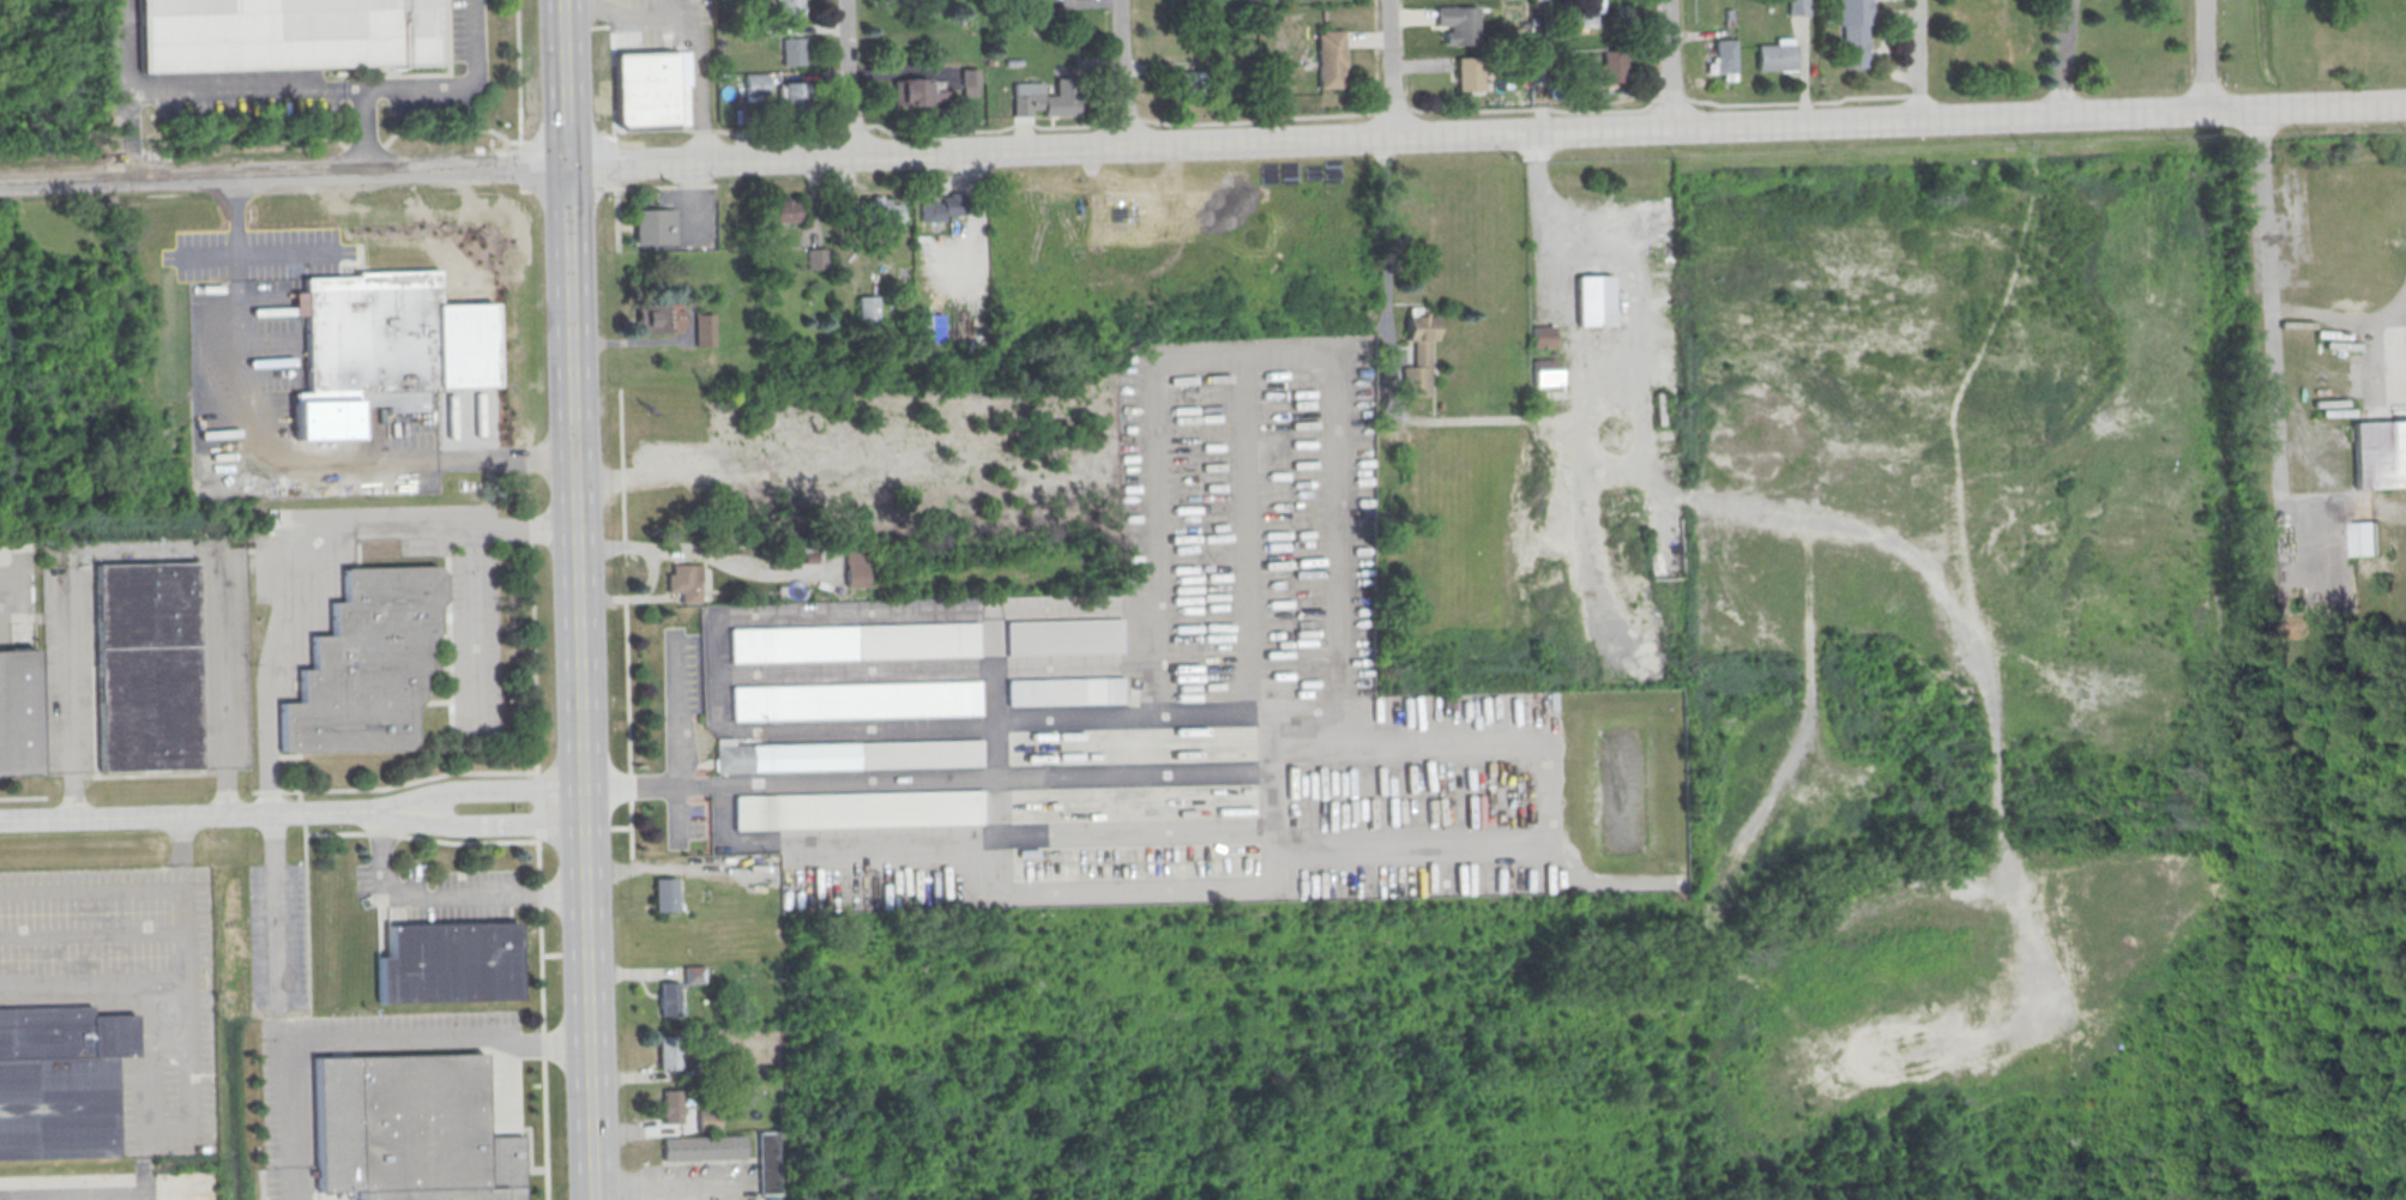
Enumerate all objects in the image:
building: (1798, 7)
building: (788, 8)
building: (1586, 14)
road: (697, 17)
building: (1459, 24)
road: (575, 28)
building: (1853, 30)
building: (284, 34)
road: (123, 43)
building: (792, 50)
road: (2205, 55)
building: (1724, 56)
building: (1775, 58)
road: (2062, 58)
building: (1329, 59)
road: (1919, 60)
road: (1669, 65)
road: (1391, 70)
building: (1469, 73)
road: (1120, 74)
building: (1599, 74)
road: (846, 79)
building: (1187, 80)
building: (969, 82)
road: (518, 83)
road: (562, 83)
building: (755, 84)
road: (459, 85)
road: (243, 86)
building: (651, 89)
building: (911, 91)
building: (790, 95)
road: (1914, 96)
building: (1044, 98)
road: (1672, 100)
road: (1798, 103)
road: (611, 108)
road: (1393, 109)
road: (1536, 109)
road: (1123, 120)
road: (1259, 121)
road: (850, 127)
road: (363, 129)
road: (1627, 131)
road: (704, 132)
road: (985, 132)
road: (125, 133)
road: (776, 138)
road: (374, 145)
road: (706, 162)
traffic signals: (565, 165)
road: (282, 175)
building: (882, 209)
building: (943, 209)
building: (780, 212)
building: (653, 225)
road: (237, 228)
parking lot: (258, 251)
road: (258, 251)
building: (816, 258)
road: (1382, 273)
building: (1593, 300)
building: (868, 309)
building: (657, 318)
road: (2339, 319)
building: (929, 327)
building: (704, 330)
building: (1543, 337)
road: (633, 342)
building: (364, 346)
building: (1419, 351)
road: (2272, 354)
road: (1192, 355)
building: (1545, 372)
road: (265, 448)
building: (2378, 453)
road: (505, 460)
road: (621, 465)
road: (572, 486)
road: (530, 506)
road: (530, 529)
road: (299, 537)
building: (2368, 538)
road: (623, 548)
road: (145, 553)
road: (711, 555)
building: (782, 561)
building: (855, 567)
road: (623, 574)
road: (12, 581)
building: (685, 581)
road: (625, 598)
road: (632, 599)
road: (475, 625)
building: (1062, 637)
building: (852, 641)
road: (533, 657)
building: (364, 662)
building: (146, 667)
road: (627, 688)
building: (1065, 689)
building: (855, 700)
building: (18, 713)
road: (670, 738)
building: (848, 754)
road: (1066, 773)
road: (408, 783)
road: (631, 785)
road: (481, 788)
road: (255, 791)
road: (269, 791)
road: (300, 795)
road: (537, 806)
building: (857, 809)
road: (302, 810)
road: (191, 815)
road: (482, 824)
road: (631, 827)
road: (336, 833)
road: (384, 833)
road: (469, 842)
road: (1416, 850)
road: (538, 861)
road: (649, 870)
road: (539, 894)
building: (664, 894)
road: (447, 899)
road: (275, 906)
road: (307, 913)
building: (448, 964)
road: (541, 970)
building: (692, 973)
building: (668, 997)
road: (586, 1002)
road: (150, 1023)
road: (366, 1043)
road: (543, 1045)
building: (669, 1055)
building: (60, 1081)
building: (670, 1106)
building: (706, 1120)
road: (544, 1129)
building: (410, 1130)
building: (701, 1147)
building: (767, 1163)
road: (659, 1183)

